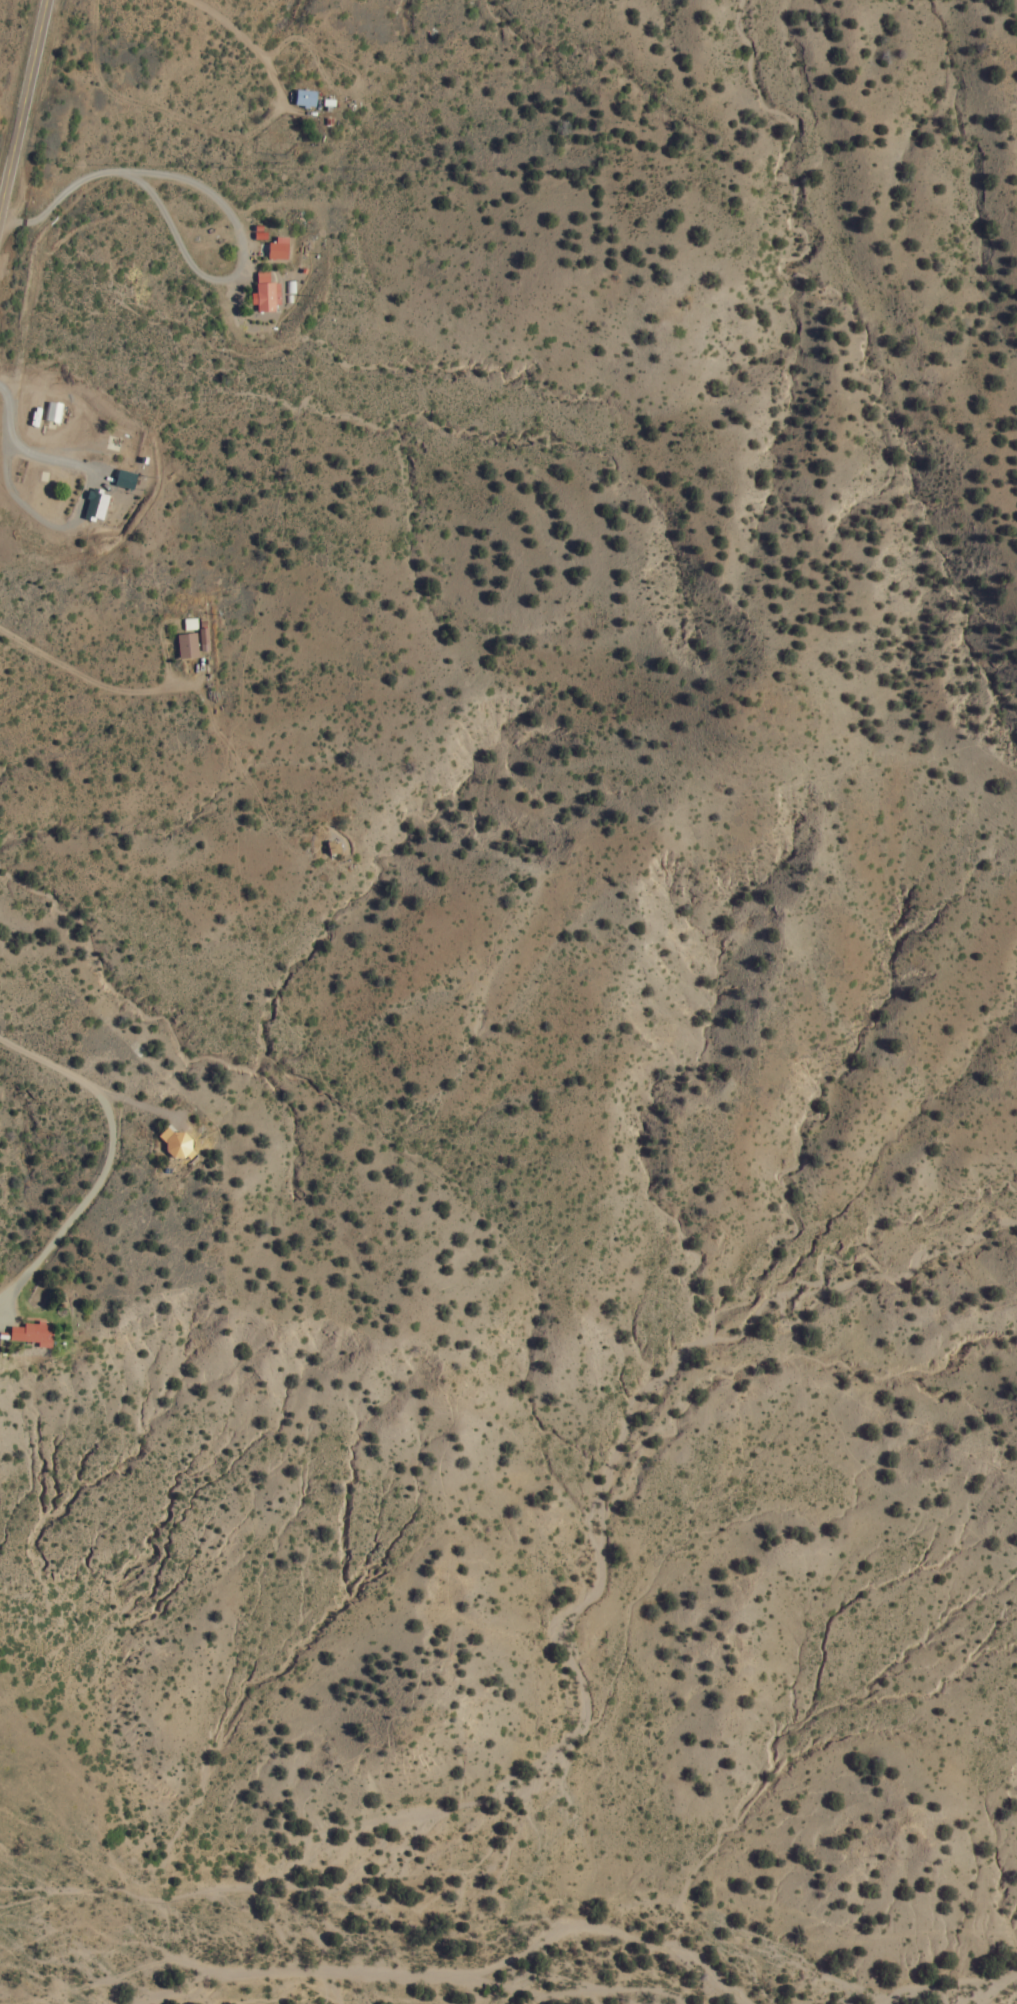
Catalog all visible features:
building: (303, 98)
road: (24, 118)
building: (276, 249)
building: (263, 294)
building: (51, 412)
building: (123, 479)
building: (93, 505)
building: (185, 645)
building: (172, 1141)
building: (30, 1332)

